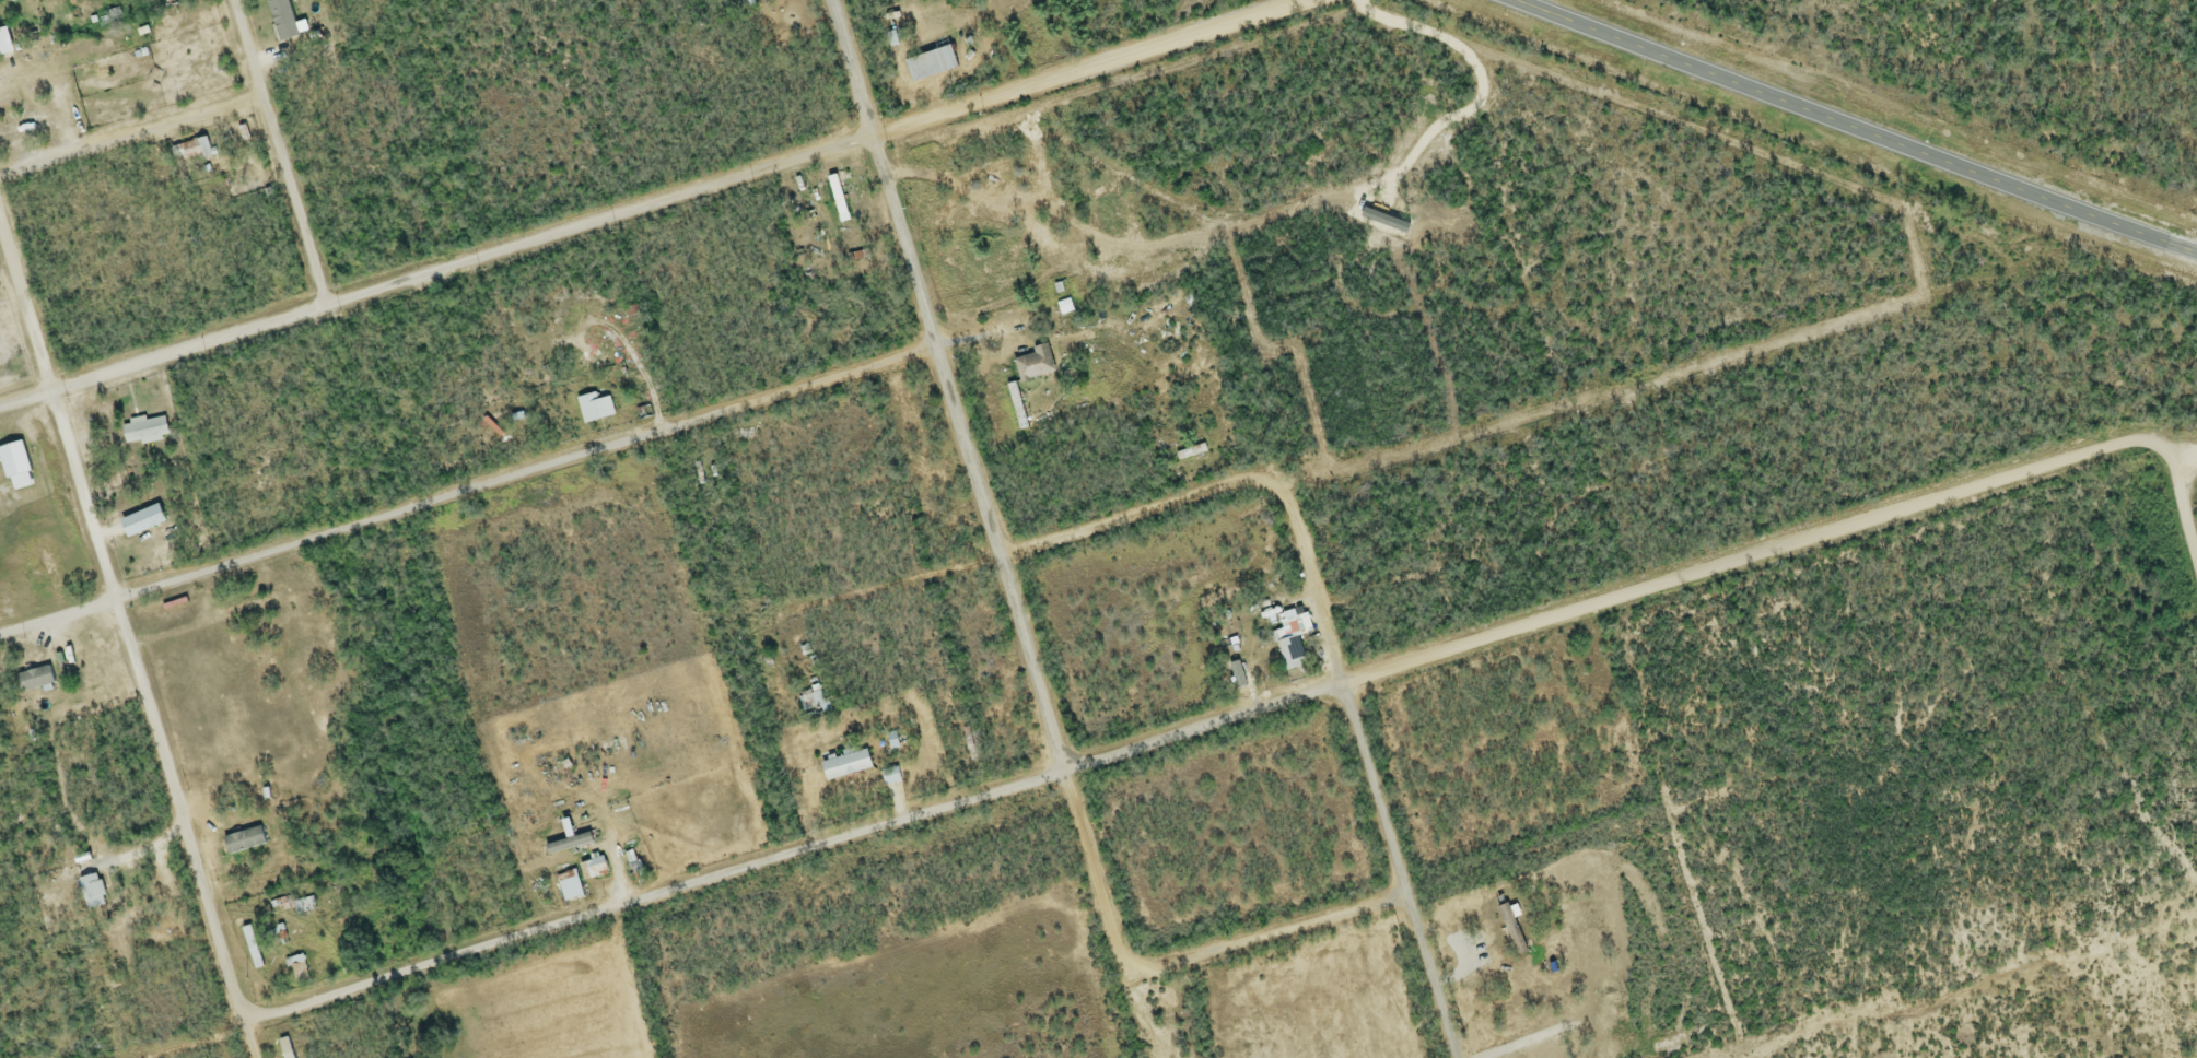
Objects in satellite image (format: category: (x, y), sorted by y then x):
building: (3, 44)
building: (928, 66)
road: (1850, 129)
road: (130, 136)
building: (198, 151)
road: (280, 153)
road: (674, 198)
building: (1006, 274)
building: (1032, 366)
building: (593, 409)
building: (143, 433)
road: (2178, 447)
road: (512, 481)
road: (1131, 518)
road: (990, 520)
building: (140, 522)
building: (248, 607)
road: (122, 621)
building: (1289, 645)
building: (33, 680)
building: (818, 701)
road: (1258, 712)
road: (1365, 760)
building: (844, 766)
building: (889, 777)
building: (242, 842)
building: (565, 846)
building: (592, 870)
building: (568, 886)
building: (91, 893)
road: (1269, 940)
building: (1515, 942)
building: (296, 971)
road: (249, 1037)
building: (283, 1049)

